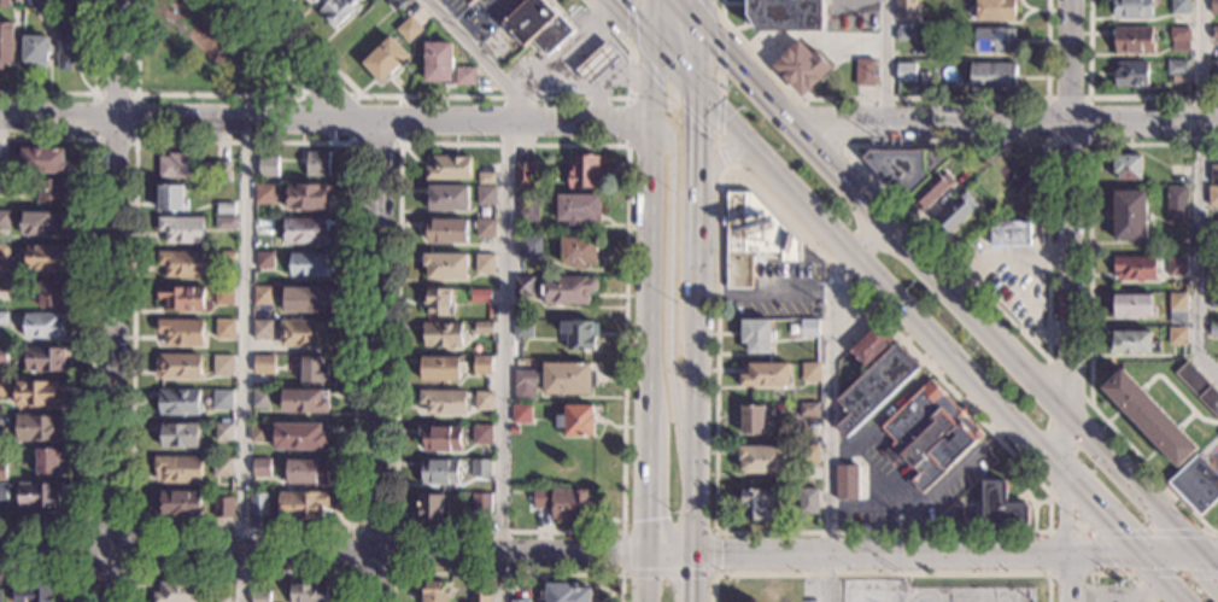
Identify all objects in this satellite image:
road: (678, 0)
road: (678, 0)
building: (311, 1)
building: (468, 1)
building: (4, 4)
building: (68, 4)
building: (394, 4)
building: (46, 6)
building: (1178, 6)
building: (1213, 6)
building: (904, 8)
building: (1129, 8)
building: (992, 10)
building: (336, 11)
road: (690, 12)
road: (701, 12)
building: (785, 14)
road: (478, 17)
road: (169, 18)
traffic signals: (701, 24)
building: (539, 25)
building: (614, 28)
building: (408, 29)
road: (721, 31)
building: (1214, 31)
building: (902, 34)
building: (1178, 34)
building: (992, 40)
building: (1131, 40)
building: (6, 42)
traffic signals: (649, 43)
building: (69, 45)
road: (654, 48)
road: (689, 48)
road: (631, 49)
building: (35, 51)
road: (566, 53)
park: (201, 58)
road: (117, 59)
building: (385, 59)
road: (699, 60)
building: (438, 62)
road: (885, 62)
building: (601, 63)
road: (737, 63)
road: (299, 66)
building: (801, 68)
building: (1176, 70)
building: (1212, 70)
building: (862, 72)
building: (902, 72)
building: (1128, 72)
building: (464, 76)
building: (990, 76)
road: (721, 82)
building: (1183, 88)
road: (93, 93)
road: (236, 94)
road: (300, 94)
road: (671, 94)
road: (487, 95)
traffic signals: (699, 97)
road: (904, 98)
road: (1102, 98)
road: (785, 113)
road: (58, 117)
road: (1050, 119)
road: (627, 121)
road: (382, 122)
road: (816, 122)
road: (841, 124)
road: (730, 129)
road: (715, 130)
road: (667, 133)
road: (713, 138)
road: (92, 139)
road: (398, 144)
road: (1087, 146)
road: (722, 153)
road: (725, 156)
building: (43, 160)
building: (317, 164)
building: (1, 166)
building: (175, 166)
building: (267, 166)
building: (1126, 166)
building: (449, 168)
building: (903, 168)
road: (839, 170)
building: (217, 171)
building: (585, 171)
building: (1177, 174)
building: (1213, 174)
building: (523, 175)
building: (486, 177)
road: (697, 181)
building: (5, 185)
building: (932, 189)
building: (51, 192)
building: (264, 193)
road: (1199, 193)
building: (308, 195)
building: (485, 195)
building: (1213, 197)
building: (171, 198)
building: (447, 198)
building: (630, 198)
building: (1176, 205)
road: (804, 206)
building: (528, 208)
building: (224, 209)
building: (578, 209)
building: (955, 212)
building: (1129, 215)
building: (4, 220)
building: (42, 222)
building: (226, 222)
building: (485, 228)
building: (182, 230)
building: (446, 230)
building: (1212, 230)
building: (305, 232)
building: (1009, 233)
road: (866, 234)
road: (1067, 234)
building: (753, 236)
building: (529, 249)
road: (671, 249)
building: (578, 251)
building: (4, 257)
building: (45, 257)
building: (224, 257)
building: (264, 259)
building: (181, 263)
building: (484, 263)
building: (310, 264)
building: (1212, 265)
building: (446, 267)
building: (1176, 267)
building: (1134, 269)
road: (833, 275)
road: (510, 284)
building: (2, 286)
building: (523, 287)
building: (566, 290)
building: (49, 293)
building: (223, 294)
building: (263, 296)
building: (480, 296)
road: (1046, 297)
building: (182, 298)
building: (308, 299)
building: (1212, 299)
road: (646, 300)
road: (1089, 300)
building: (438, 302)
road: (765, 302)
building: (1177, 302)
building: (1132, 305)
building: (2, 318)
building: (43, 327)
building: (482, 328)
building: (523, 328)
building: (808, 328)
building: (224, 329)
building: (263, 329)
building: (1213, 329)
road: (89, 332)
building: (181, 333)
building: (304, 333)
building: (441, 334)
building: (578, 334)
building: (757, 335)
building: (1177, 335)
building: (1132, 343)
building: (871, 345)
building: (2, 356)
building: (42, 360)
road: (112, 360)
road: (242, 361)
road: (956, 361)
road: (373, 362)
building: (263, 363)
building: (481, 364)
building: (177, 366)
building: (222, 366)
building: (441, 368)
building: (315, 370)
building: (810, 372)
building: (766, 375)
building: (552, 381)
road: (1044, 384)
building: (874, 387)
building: (1199, 387)
building: (4, 388)
road: (1048, 393)
building: (37, 394)
building: (221, 399)
building: (260, 399)
building: (305, 401)
building: (443, 401)
building: (484, 401)
road: (679, 402)
building: (177, 403)
building: (809, 409)
road: (695, 411)
building: (522, 414)
building: (1150, 419)
building: (753, 420)
building: (576, 421)
building: (36, 427)
road: (830, 429)
building: (514, 431)
building: (223, 432)
building: (259, 433)
building: (482, 434)
building: (930, 434)
building: (177, 436)
building: (2, 437)
building: (301, 438)
building: (441, 438)
road: (838, 446)
building: (808, 454)
building: (889, 454)
building: (763, 458)
building: (47, 461)
road: (860, 461)
building: (222, 467)
building: (260, 467)
building: (481, 467)
building: (177, 469)
building: (1, 471)
building: (306, 472)
building: (439, 472)
road: (897, 472)
building: (847, 481)
building: (1196, 484)
building: (1, 490)
road: (1025, 492)
building: (39, 495)
road: (1029, 498)
building: (807, 501)
road: (1060, 502)
building: (177, 503)
building: (258, 503)
building: (481, 503)
building: (563, 503)
building: (760, 503)
building: (1001, 504)
building: (301, 505)
road: (874, 505)
building: (223, 507)
building: (432, 508)
road: (1033, 508)
road: (1062, 513)
road: (1103, 513)
traffic signals: (645, 519)
road: (396, 528)
road: (1088, 528)
road: (133, 530)
road: (945, 531)
road: (1059, 531)
road: (1091, 537)
road: (1095, 537)
road: (322, 553)
road: (919, 555)
road: (1211, 555)
traffic signals: (616, 556)
road: (669, 556)
traffic signals: (722, 556)
road: (1173, 556)
traffic signals: (1204, 556)
traffic signals: (1144, 557)
road: (1211, 563)
road: (58, 572)
road: (86, 572)
road: (238, 572)
road: (393, 572)
road: (1113, 572)
road: (1048, 573)
road: (505, 574)
road: (880, 574)
road: (667, 575)
road: (1070, 578)
road: (693, 579)
traffic signals: (693, 579)
road: (826, 579)
road: (1166, 579)
building: (177, 592)
building: (309, 592)
building: (434, 592)
building: (564, 592)
building: (34, 594)
building: (0, 595)
building: (258, 597)
building: (479, 597)
building: (219, 600)
building: (519, 601)

